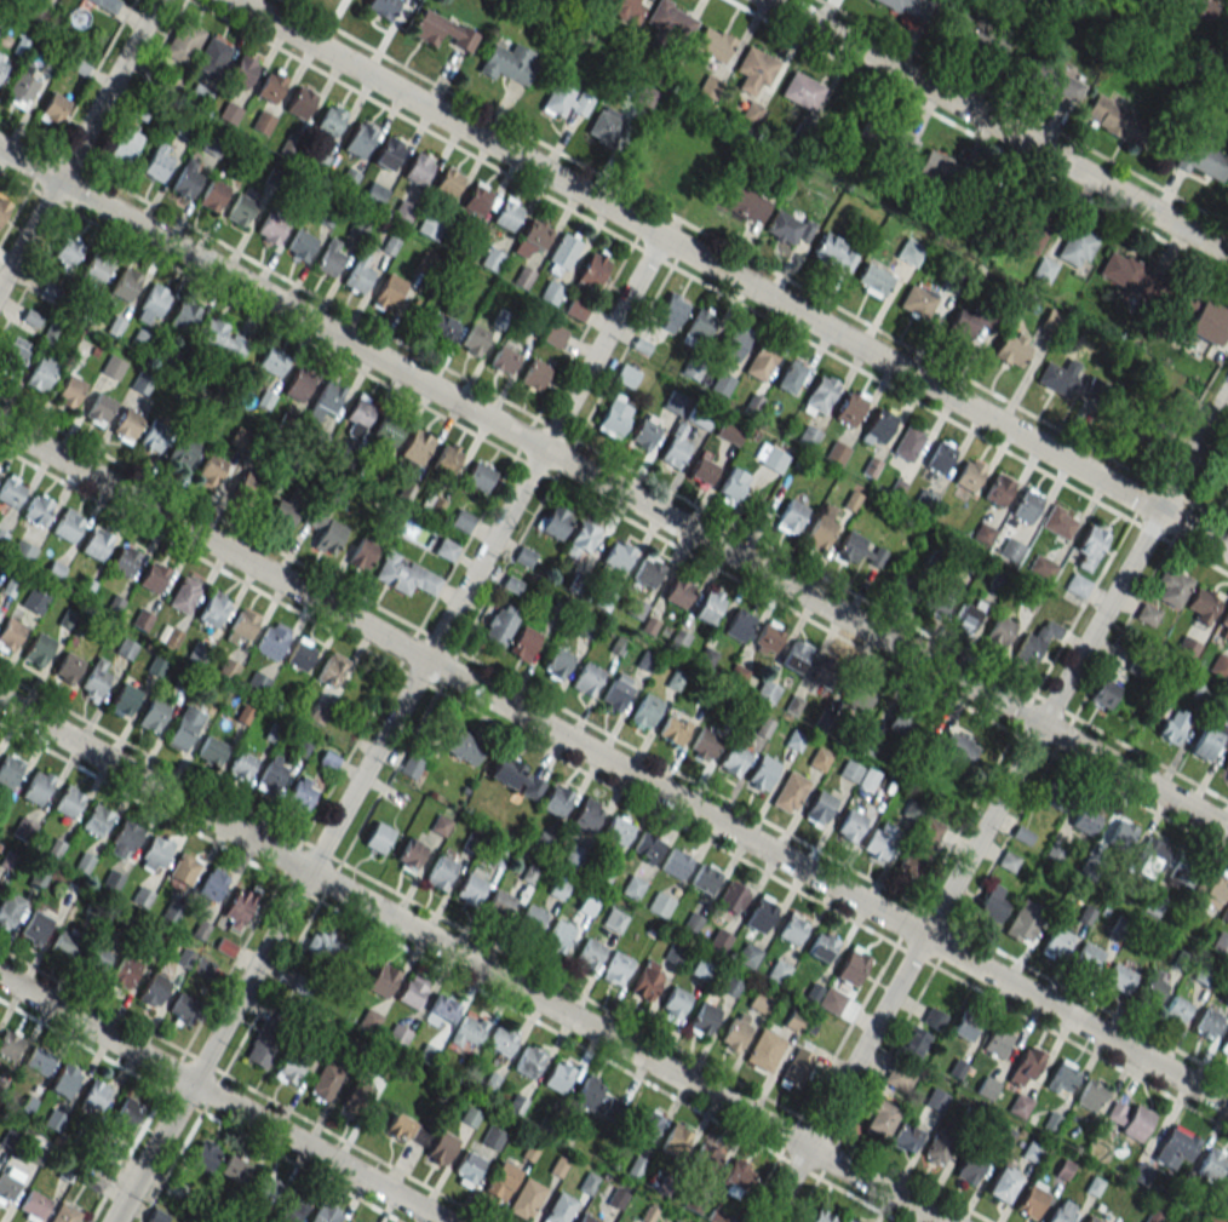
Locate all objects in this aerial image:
building: (888, 4)
building: (107, 5)
building: (624, 5)
building: (383, 7)
building: (1206, 10)
building: (0, 21)
building: (667, 21)
building: (441, 30)
building: (962, 30)
building: (184, 44)
building: (711, 44)
building: (19, 46)
building: (0, 54)
building: (211, 57)
building: (509, 63)
building: (48, 64)
building: (754, 65)
building: (1, 67)
building: (242, 71)
building: (1046, 81)
building: (270, 86)
building: (21, 88)
building: (799, 90)
building: (197, 96)
building: (644, 97)
building: (566, 99)
building: (299, 102)
building: (53, 109)
building: (229, 113)
road: (1023, 113)
building: (331, 119)
road: (65, 120)
building: (1115, 120)
building: (262, 122)
building: (604, 126)
road: (999, 126)
road: (430, 132)
building: (883, 136)
road: (977, 138)
building: (357, 140)
road: (79, 143)
building: (125, 145)
building: (212, 145)
building: (388, 154)
building: (1195, 156)
road: (91, 163)
building: (156, 166)
building: (935, 167)
building: (418, 168)
building: (345, 179)
building: (187, 182)
building: (447, 184)
building: (981, 188)
building: (213, 195)
building: (374, 195)
building: (1227, 196)
building: (477, 199)
building: (744, 201)
building: (2, 208)
building: (240, 210)
building: (506, 214)
building: (1027, 222)
building: (431, 225)
building: (788, 225)
building: (271, 228)
building: (530, 237)
road: (716, 240)
building: (300, 245)
building: (1073, 245)
building: (563, 249)
building: (834, 252)
building: (909, 252)
building: (490, 259)
building: (329, 260)
building: (592, 269)
building: (1044, 269)
building: (94, 270)
building: (1129, 275)
building: (357, 276)
road: (731, 276)
building: (873, 280)
building: (125, 283)
building: (388, 291)
building: (550, 293)
building: (916, 303)
building: (153, 304)
building: (671, 309)
building: (184, 314)
building: (1207, 317)
building: (1051, 320)
building: (969, 322)
building: (699, 325)
building: (441, 327)
building: (51, 333)
building: (224, 339)
building: (474, 339)
building: (643, 342)
building: (733, 344)
building: (1011, 349)
building: (13, 355)
building: (504, 357)
building: (272, 361)
building: (761, 361)
building: (113, 367)
building: (41, 372)
building: (1061, 373)
building: (534, 374)
building: (626, 375)
building: (788, 377)
building: (722, 383)
building: (297, 385)
building: (69, 391)
building: (820, 392)
building: (673, 401)
building: (325, 402)
building: (849, 408)
building: (99, 409)
building: (357, 415)
building: (615, 415)
road: (948, 419)
building: (126, 425)
building: (879, 425)
road: (1177, 431)
building: (729, 432)
building: (386, 434)
building: (643, 435)
building: (154, 436)
building: (1146, 440)
building: (907, 444)
building: (675, 447)
building: (414, 449)
building: (182, 452)
building: (834, 452)
building: (771, 458)
building: (940, 458)
building: (447, 459)
road: (614, 461)
building: (701, 470)
building: (208, 471)
building: (969, 474)
building: (478, 476)
building: (1223, 476)
building: (731, 486)
building: (247, 487)
road: (613, 489)
building: (11, 490)
building: (997, 490)
building: (1025, 506)
building: (38, 509)
building: (283, 511)
road: (208, 512)
building: (791, 517)
building: (553, 522)
building: (1058, 522)
building: (68, 526)
building: (821, 529)
building: (325, 530)
building: (580, 538)
building: (96, 543)
building: (1091, 544)
building: (859, 549)
building: (1011, 550)
building: (22, 551)
building: (362, 553)
building: (523, 556)
building: (618, 556)
building: (124, 560)
road: (218, 568)
building: (1041, 568)
building: (647, 572)
building: (406, 575)
building: (153, 576)
building: (905, 585)
building: (1077, 585)
building: (1172, 589)
building: (678, 591)
building: (184, 595)
building: (35, 599)
building: (0, 601)
building: (937, 601)
building: (1201, 604)
building: (707, 607)
building: (213, 608)
building: (556, 612)
building: (1147, 614)
building: (968, 615)
road: (420, 621)
building: (500, 624)
building: (739, 624)
building: (649, 625)
building: (1223, 625)
building: (241, 626)
building: (585, 627)
building: (998, 633)
building: (10, 635)
building: (767, 637)
building: (272, 639)
building: (677, 639)
building: (1035, 642)
building: (523, 643)
building: (618, 646)
building: (1186, 648)
building: (38, 649)
building: (300, 654)
building: (794, 656)
building: (705, 658)
building: (645, 660)
road: (1075, 662)
building: (557, 664)
building: (1220, 666)
building: (67, 669)
building: (826, 669)
building: (331, 670)
building: (736, 675)
building: (587, 677)
building: (94, 679)
building: (767, 690)
building: (1104, 692)
building: (616, 693)
building: (862, 696)
building: (124, 700)
building: (644, 712)
building: (153, 715)
building: (901, 723)
building: (1174, 725)
building: (763, 727)
building: (184, 728)
road: (386, 729)
building: (673, 729)
building: (794, 740)
building: (704, 742)
building: (1205, 744)
building: (463, 746)
building: (867, 746)
building: (956, 748)
building: (211, 750)
building: (731, 759)
building: (820, 759)
road: (613, 764)
building: (241, 767)
building: (8, 770)
building: (850, 770)
building: (1224, 770)
building: (762, 771)
building: (272, 773)
building: (517, 778)
road: (692, 780)
building: (36, 788)
building: (790, 792)
building: (1055, 792)
building: (302, 793)
building: (69, 801)
building: (556, 801)
building: (819, 808)
road: (256, 815)
building: (585, 815)
road: (670, 819)
building: (1085, 819)
building: (96, 820)
building: (440, 825)
building: (851, 825)
building: (23, 827)
building: (616, 830)
building: (1121, 836)
building: (378, 837)
building: (124, 838)
building: (882, 844)
building: (648, 845)
building: (920, 847)
building: (154, 851)
building: (409, 854)
building: (572, 855)
building: (1150, 856)
building: (1008, 860)
building: (675, 864)
building: (183, 868)
building: (1186, 870)
building: (440, 872)
building: (604, 877)
building: (704, 879)
building: (212, 884)
building: (632, 887)
building: (470, 888)
building: (1212, 890)
building: (731, 897)
building: (993, 900)
building: (499, 903)
building: (660, 905)
building: (237, 908)
building: (10, 910)
building: (759, 913)
building: (1224, 913)
road: (936, 914)
building: (533, 917)
building: (1026, 918)
building: (614, 920)
building: (692, 923)
building: (35, 928)
building: (791, 928)
building: (558, 936)
building: (1057, 940)
building: (719, 941)
building: (65, 942)
building: (1221, 943)
building: (328, 946)
building: (821, 946)
road: (914, 953)
building: (589, 954)
building: (672, 954)
building: (747, 954)
building: (1089, 956)
building: (97, 957)
road: (470, 962)
building: (851, 965)
building: (615, 968)
building: (125, 970)
building: (701, 970)
building: (776, 971)
building: (1119, 977)
building: (381, 980)
road: (553, 980)
building: (647, 980)
building: (730, 986)
building: (1152, 988)
building: (153, 989)
building: (412, 991)
road: (1088, 998)
building: (831, 1000)
building: (759, 1003)
building: (673, 1004)
building: (443, 1006)
building: (182, 1009)
building: (1175, 1010)
building: (934, 1017)
building: (702, 1020)
building: (794, 1020)
building: (1206, 1022)
building: (964, 1027)
building: (467, 1031)
building: (735, 1032)
building: (397, 1035)
building: (501, 1040)
road: (865, 1042)
building: (913, 1042)
building: (995, 1042)
road: (1077, 1043)
building: (10, 1044)
building: (1224, 1045)
building: (764, 1050)
building: (260, 1051)
building: (38, 1060)
building: (528, 1061)
building: (1026, 1066)
building: (289, 1067)
building: (797, 1067)
building: (557, 1077)
building: (899, 1078)
building: (1062, 1078)
building: (64, 1080)
road: (218, 1082)
building: (325, 1083)
building: (987, 1088)
building: (587, 1092)
building: (96, 1095)
building: (1091, 1095)
road: (222, 1098)
building: (1018, 1106)
building: (126, 1113)
building: (878, 1117)
building: (53, 1119)
building: (1129, 1119)
building: (647, 1123)
building: (407, 1130)
road: (245, 1136)
building: (905, 1136)
building: (492, 1137)
building: (676, 1140)
building: (939, 1146)
building: (1176, 1146)
road: (356, 1147)
building: (441, 1147)
building: (1032, 1152)
building: (202, 1158)
building: (0, 1159)
building: (704, 1160)
building: (1211, 1163)
building: (234, 1169)
building: (466, 1169)
building: (969, 1169)
building: (1140, 1174)
building: (736, 1178)
building: (92, 1181)
building: (500, 1181)
building: (8, 1182)
building: (1227, 1182)
road: (785, 1184)
building: (1002, 1184)
building: (264, 1189)
building: (526, 1199)
building: (1033, 1199)
building: (33, 1206)
building: (291, 1209)
building: (560, 1209)
building: (1062, 1211)
building: (64, 1214)
building: (326, 1214)
building: (156, 1216)
building: (820, 1216)
building: (586, 1218)
building: (1091, 1218)
building: (350, 1221)
building: (676, 1221)
building: (845, 1221)

